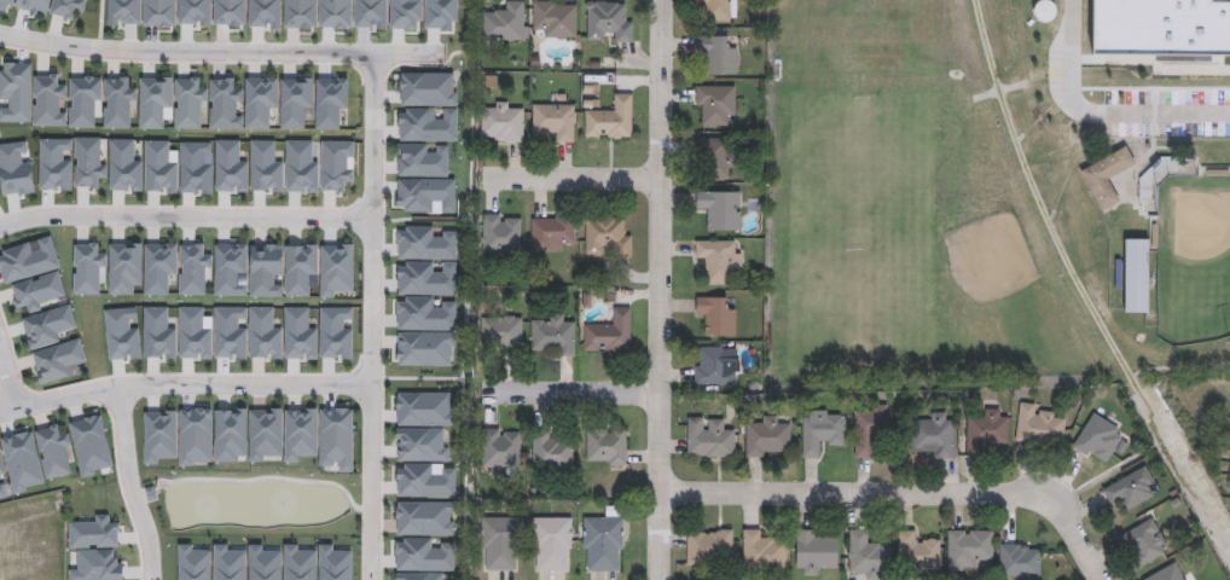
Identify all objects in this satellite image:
building: (25, 6)
building: (65, 7)
building: (719, 8)
building: (1045, 11)
building: (123, 12)
building: (157, 12)
building: (193, 12)
building: (228, 12)
building: (298, 13)
building: (370, 13)
building: (335, 14)
building: (404, 14)
building: (556, 17)
building: (608, 21)
building: (506, 22)
building: (1162, 24)
road: (217, 48)
building: (718, 53)
building: (427, 88)
building: (14, 92)
building: (82, 99)
building: (48, 100)
building: (153, 100)
building: (329, 100)
building: (187, 101)
building: (295, 101)
building: (117, 103)
building: (260, 103)
building: (225, 104)
building: (715, 104)
road: (1102, 106)
building: (610, 117)
building: (501, 121)
building: (553, 122)
building: (715, 157)
road: (574, 176)
building: (1106, 176)
building: (721, 208)
road: (184, 215)
park: (861, 226)
building: (551, 231)
building: (501, 233)
building: (607, 236)
building: (719, 259)
building: (28, 260)
building: (1136, 275)
road: (661, 290)
building: (39, 292)
building: (716, 313)
road: (370, 315)
building: (48, 326)
building: (501, 331)
building: (609, 331)
building: (552, 332)
building: (58, 361)
building: (714, 365)
road: (6, 377)
road: (219, 382)
road: (575, 390)
building: (1039, 424)
building: (874, 428)
building: (822, 430)
building: (985, 431)
building: (933, 435)
building: (767, 436)
building: (708, 437)
building: (1098, 437)
building: (500, 446)
building: (607, 447)
building: (552, 448)
building: (53, 452)
road: (128, 482)
building: (1131, 488)
road: (904, 491)
building: (603, 541)
building: (1143, 541)
building: (499, 545)
building: (551, 545)
building: (707, 545)
building: (968, 546)
building: (816, 550)
building: (762, 551)
building: (917, 551)
building: (866, 555)
building: (1020, 561)
building: (1166, 573)

